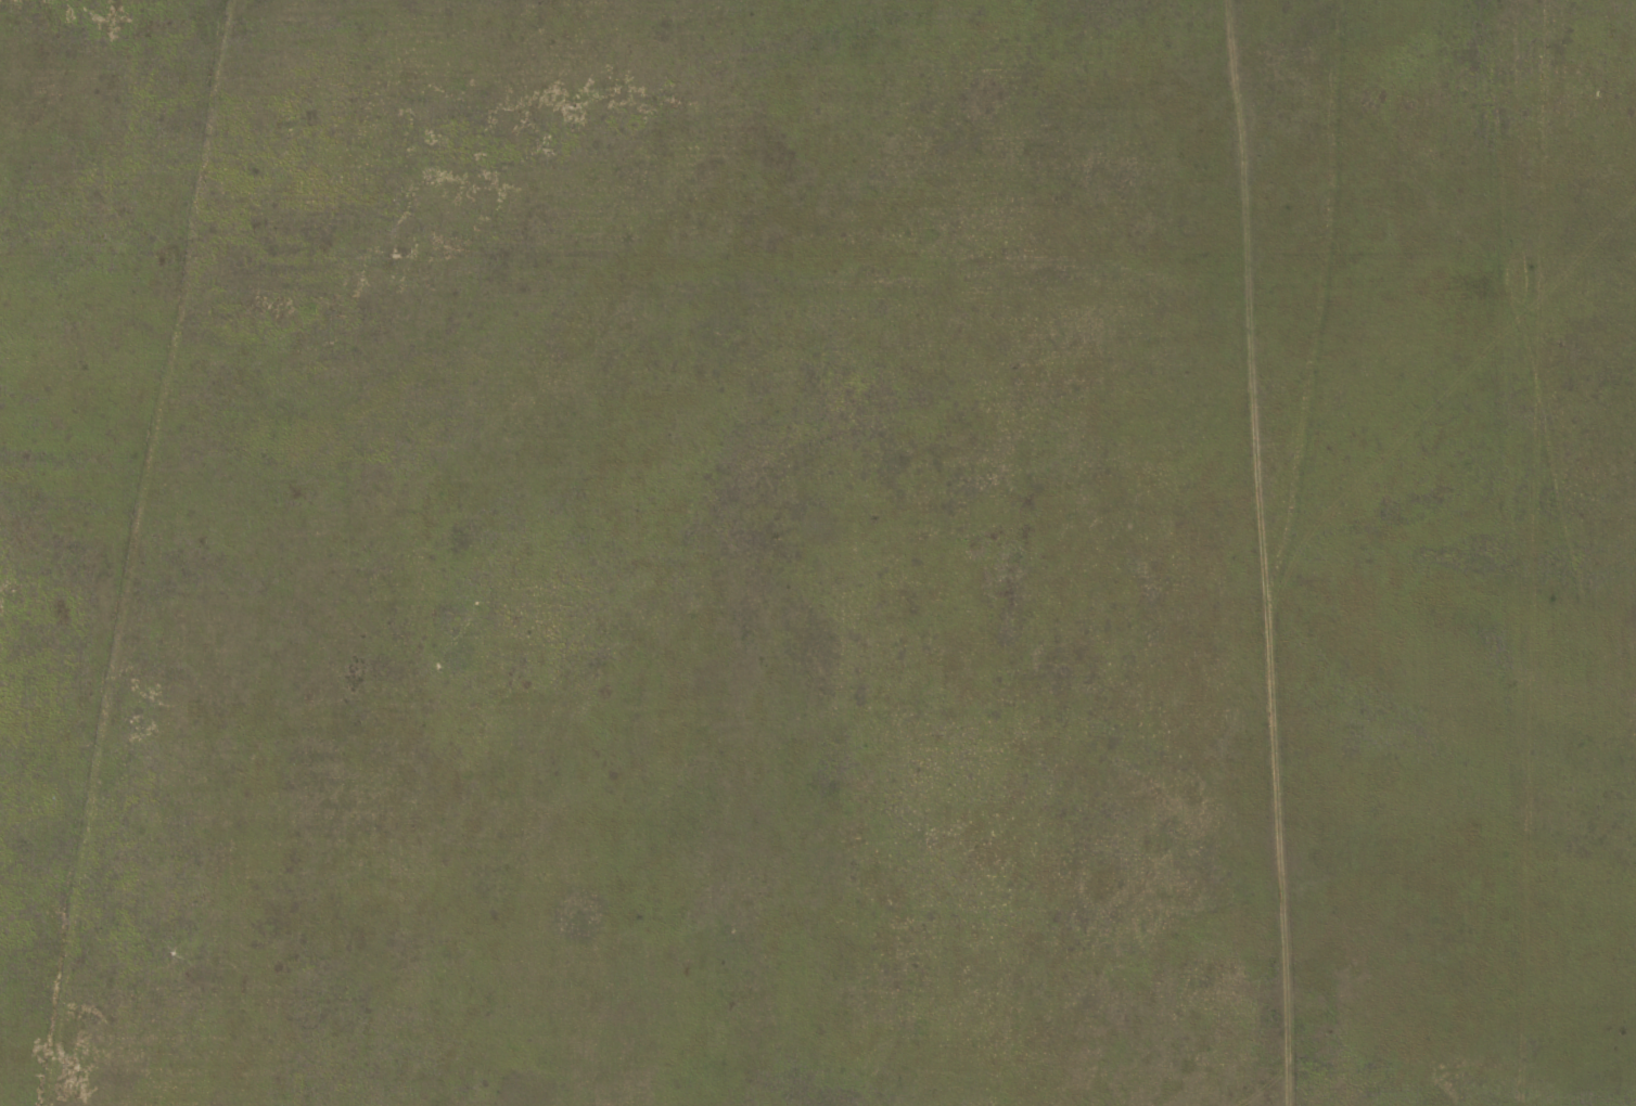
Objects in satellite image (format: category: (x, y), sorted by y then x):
road: (1237, 553)

